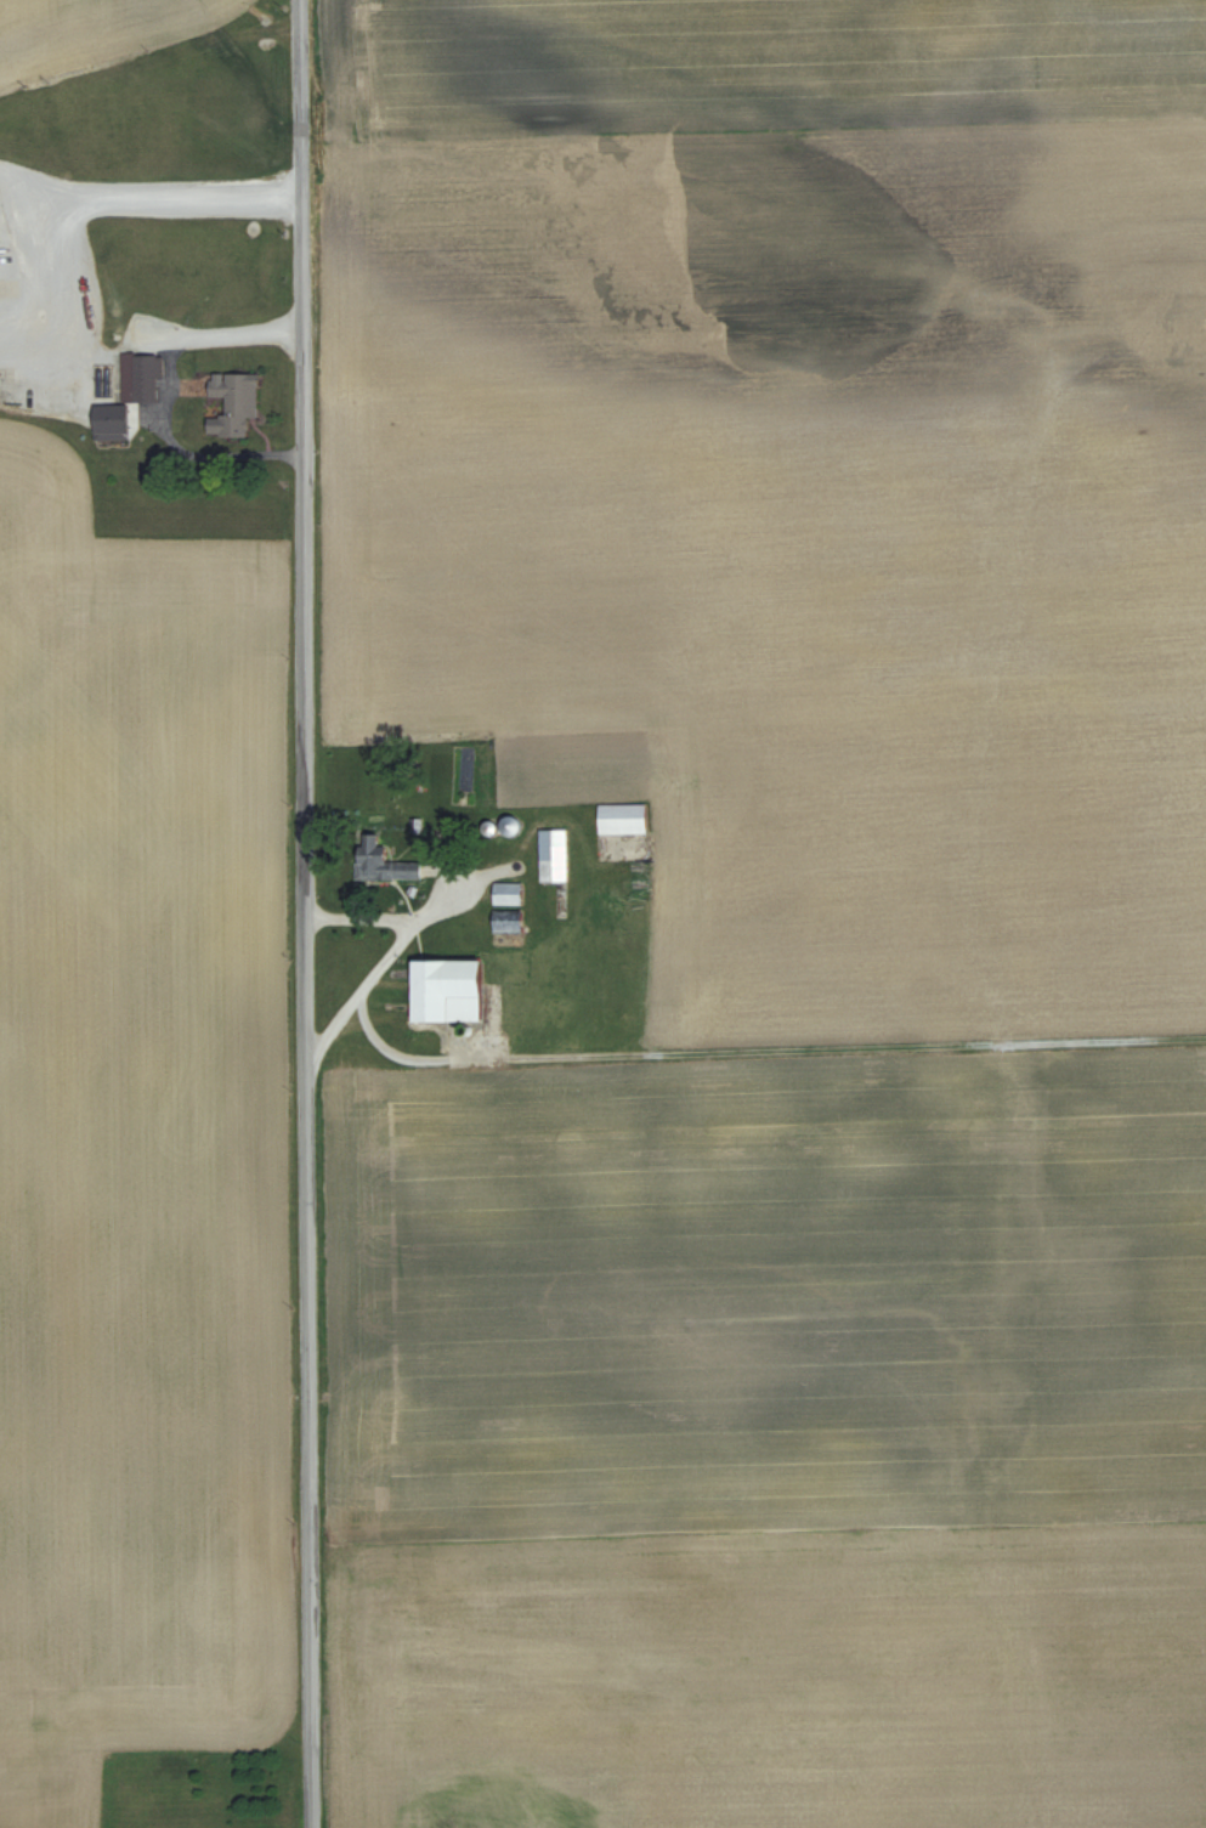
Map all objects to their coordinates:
road: (32, 187)
road: (62, 271)
building: (136, 386)
building: (231, 401)
building: (621, 817)
building: (508, 824)
building: (553, 854)
building: (380, 860)
building: (506, 892)
road: (458, 896)
road: (301, 913)
building: (506, 926)
road: (392, 956)
building: (445, 989)

